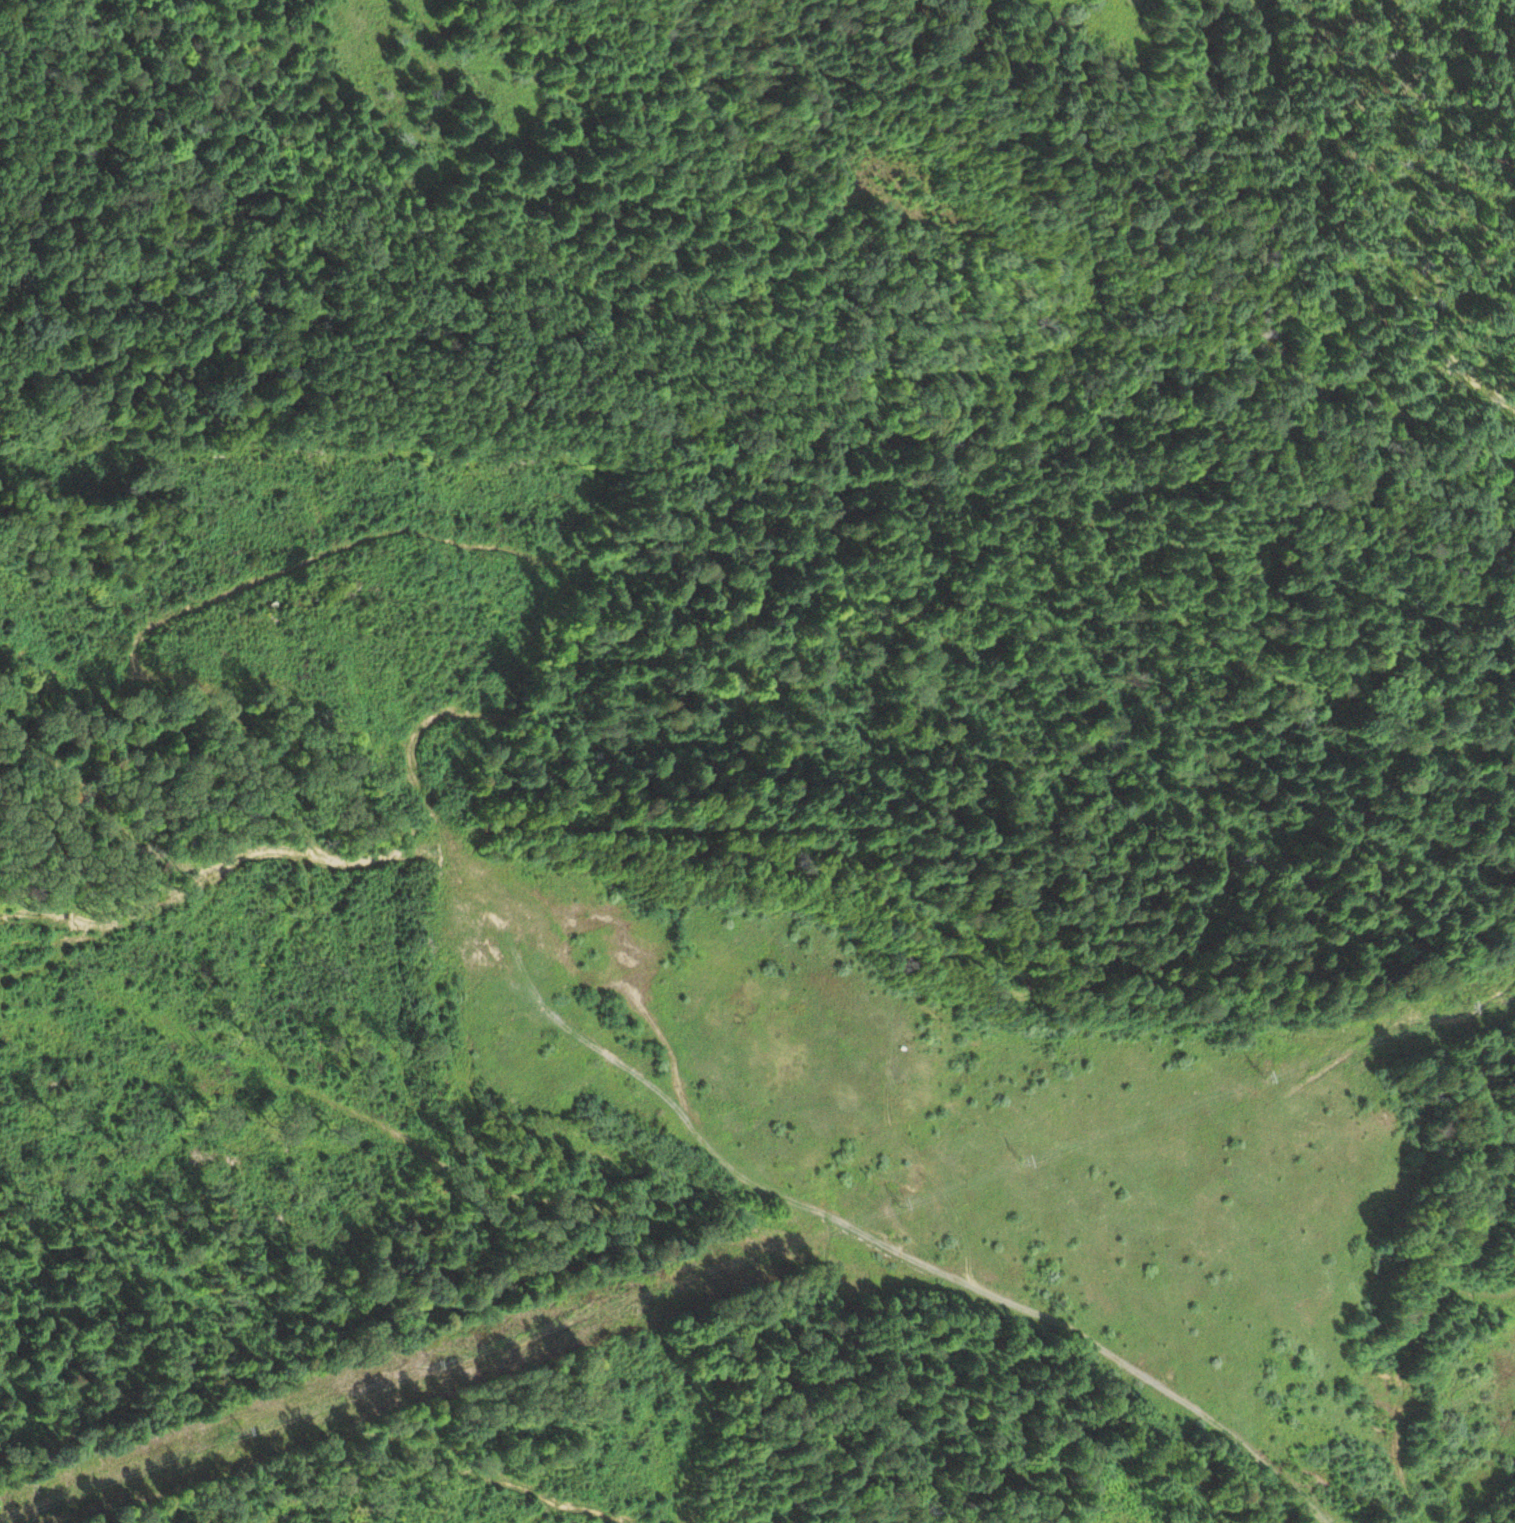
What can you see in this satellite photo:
road: (74, 2)
road: (1306, 200)
road: (1445, 431)
road: (744, 461)
power tower: (1463, 1004)
power tower: (1269, 1070)
power tower: (1025, 1153)
power tower: (905, 1194)
power tower: (651, 1280)
power tower: (430, 1356)
power tower: (246, 1418)
power tower: (39, 1489)

